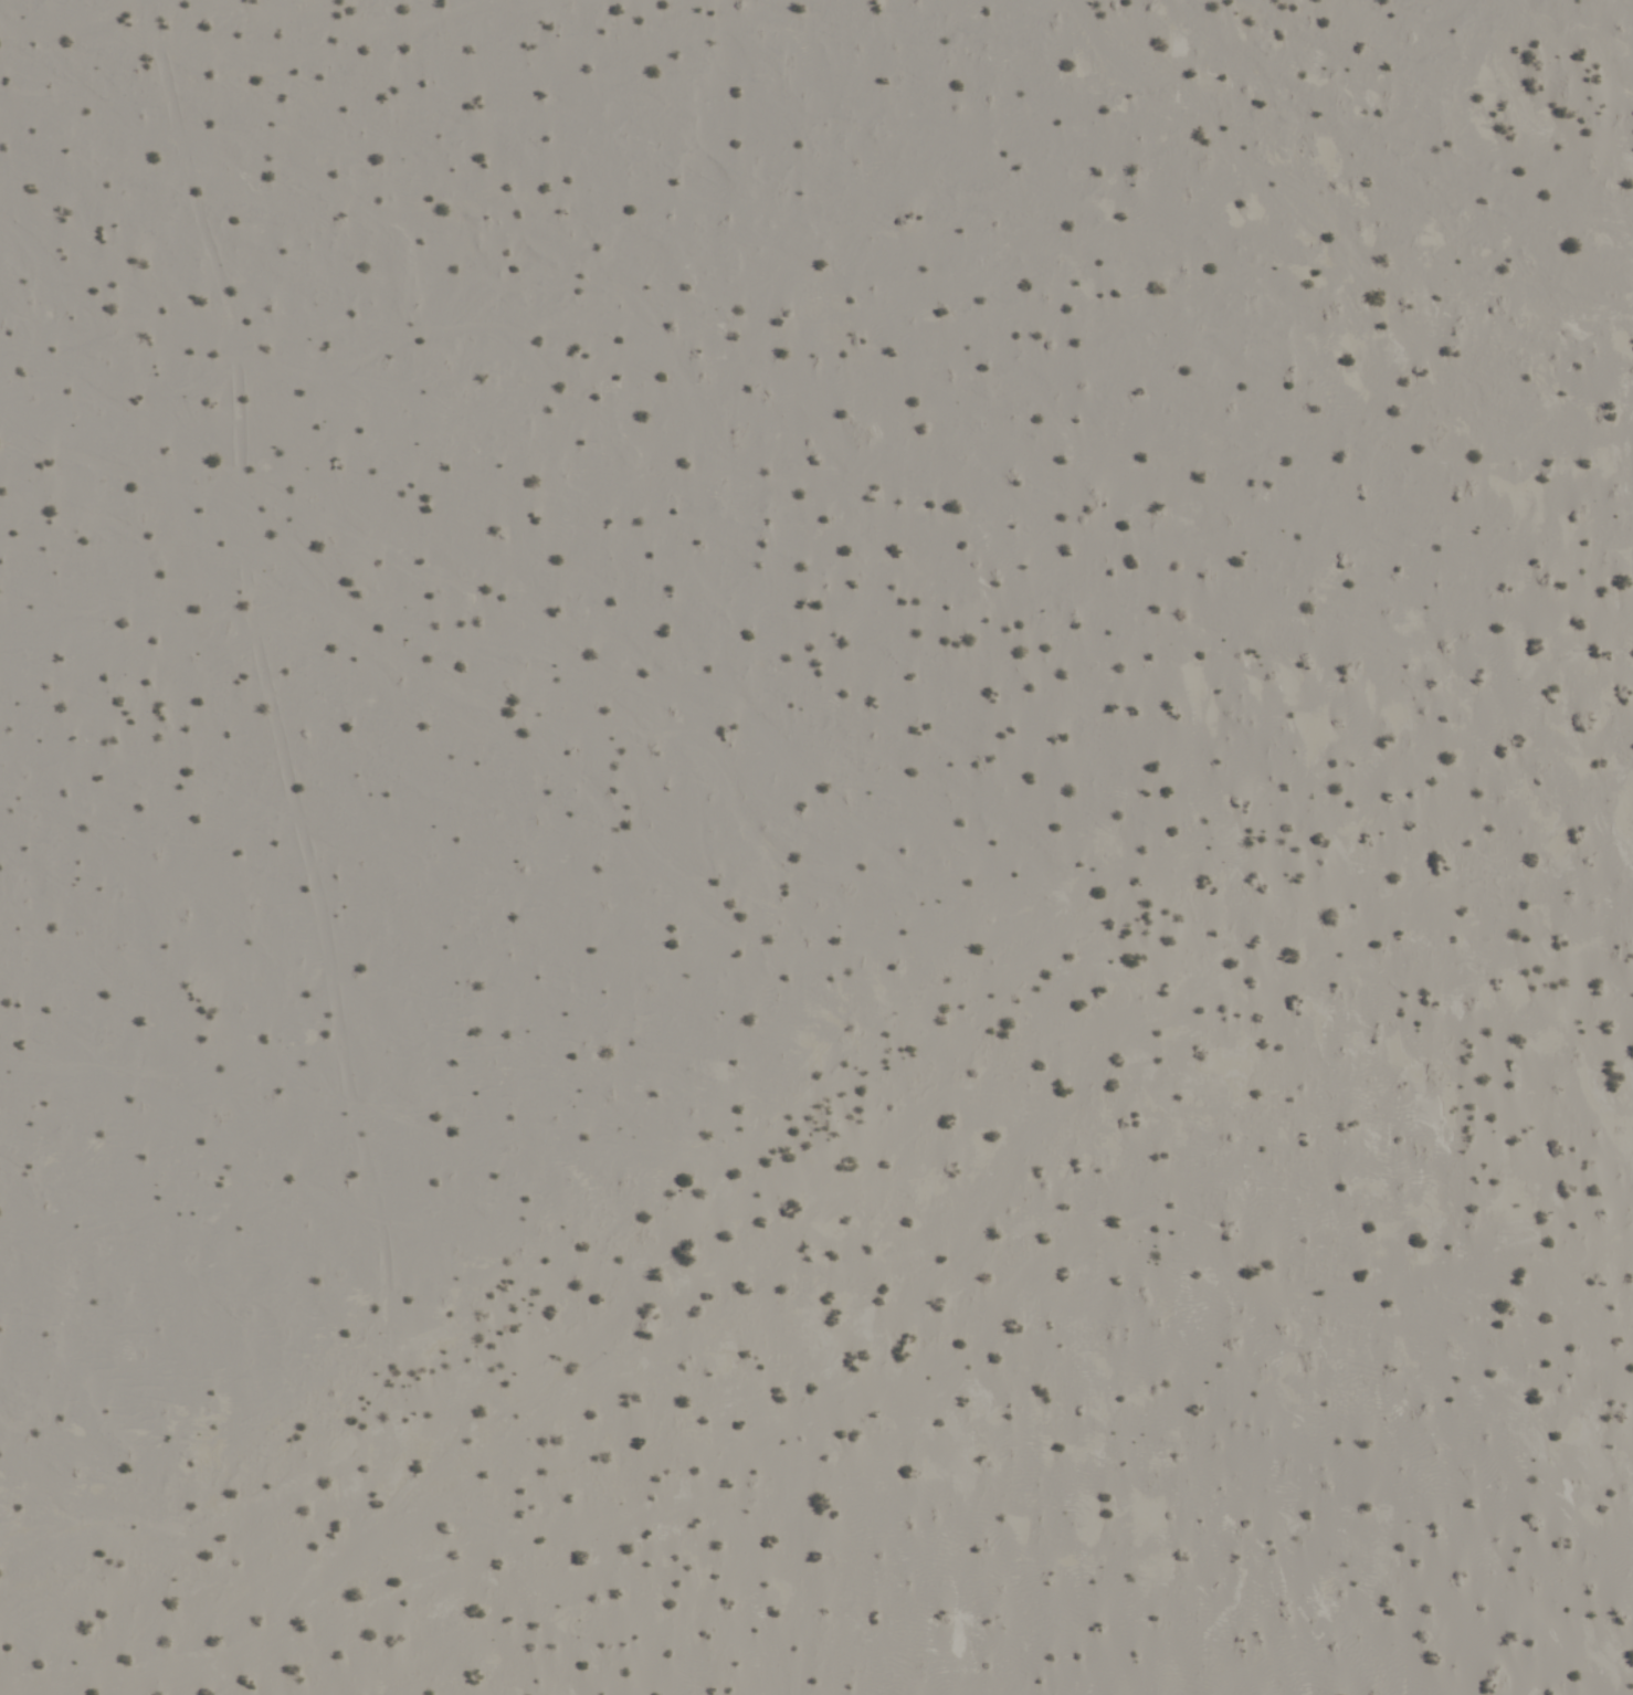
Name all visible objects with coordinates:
road: (303, 847)

